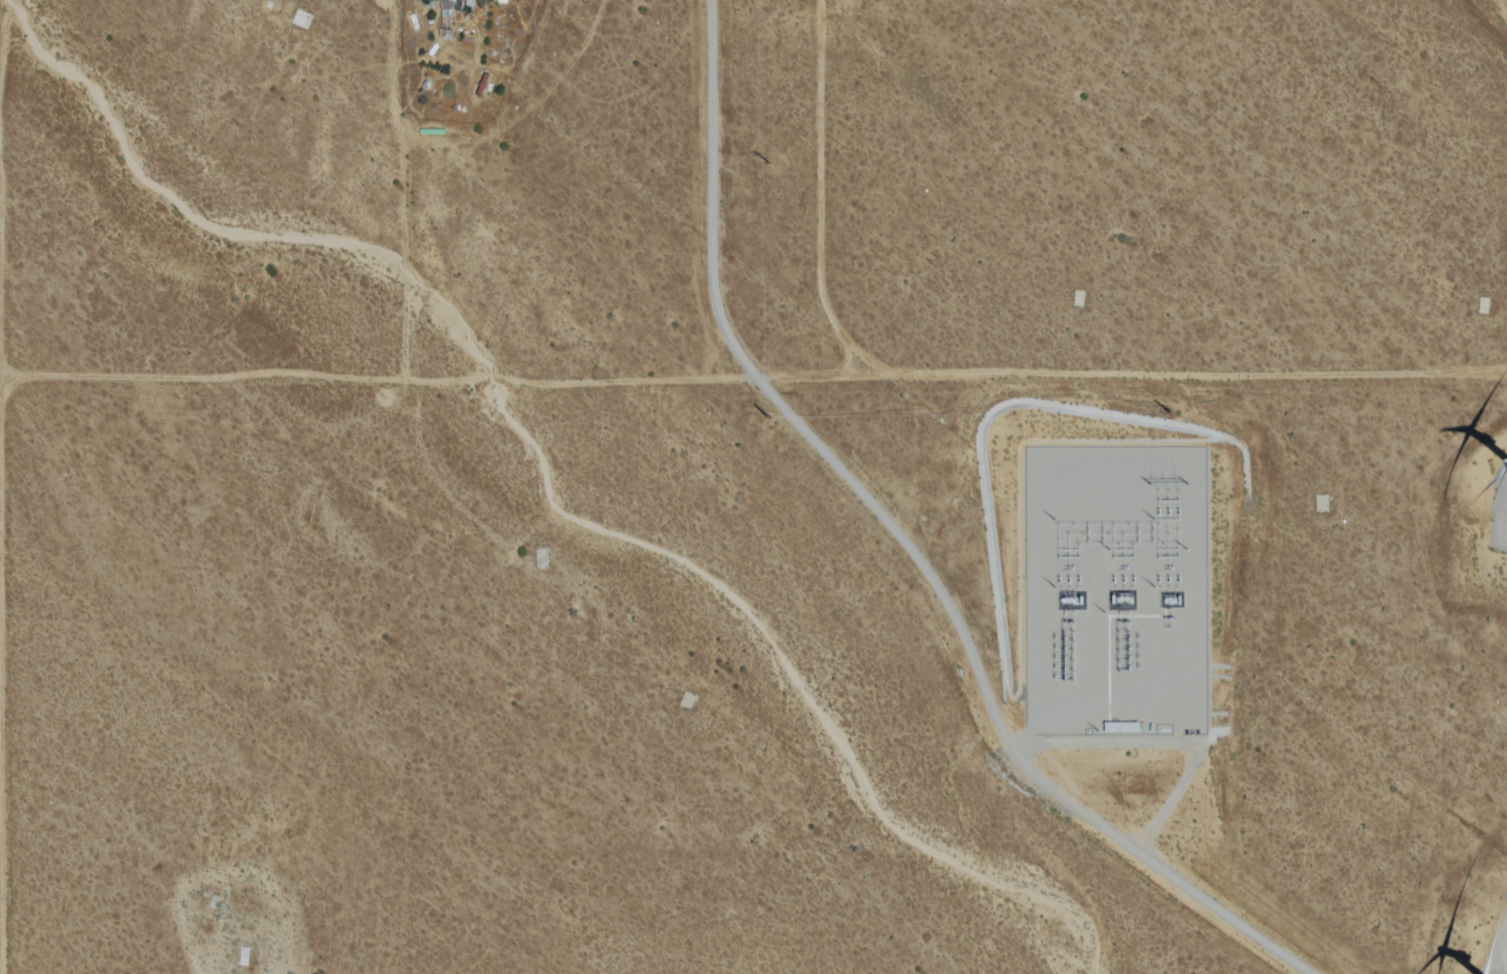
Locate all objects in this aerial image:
road: (0, 3)
building: (448, 7)
building: (296, 18)
building: (478, 84)
road: (1290, 374)
road: (537, 377)
power tower: (1173, 416)
power tower: (773, 420)
power tower: (1172, 484)
building: (306, 508)
building: (923, 517)
power substation: (1119, 595)
road: (1, 868)
building: (242, 956)
road: (218, 973)

